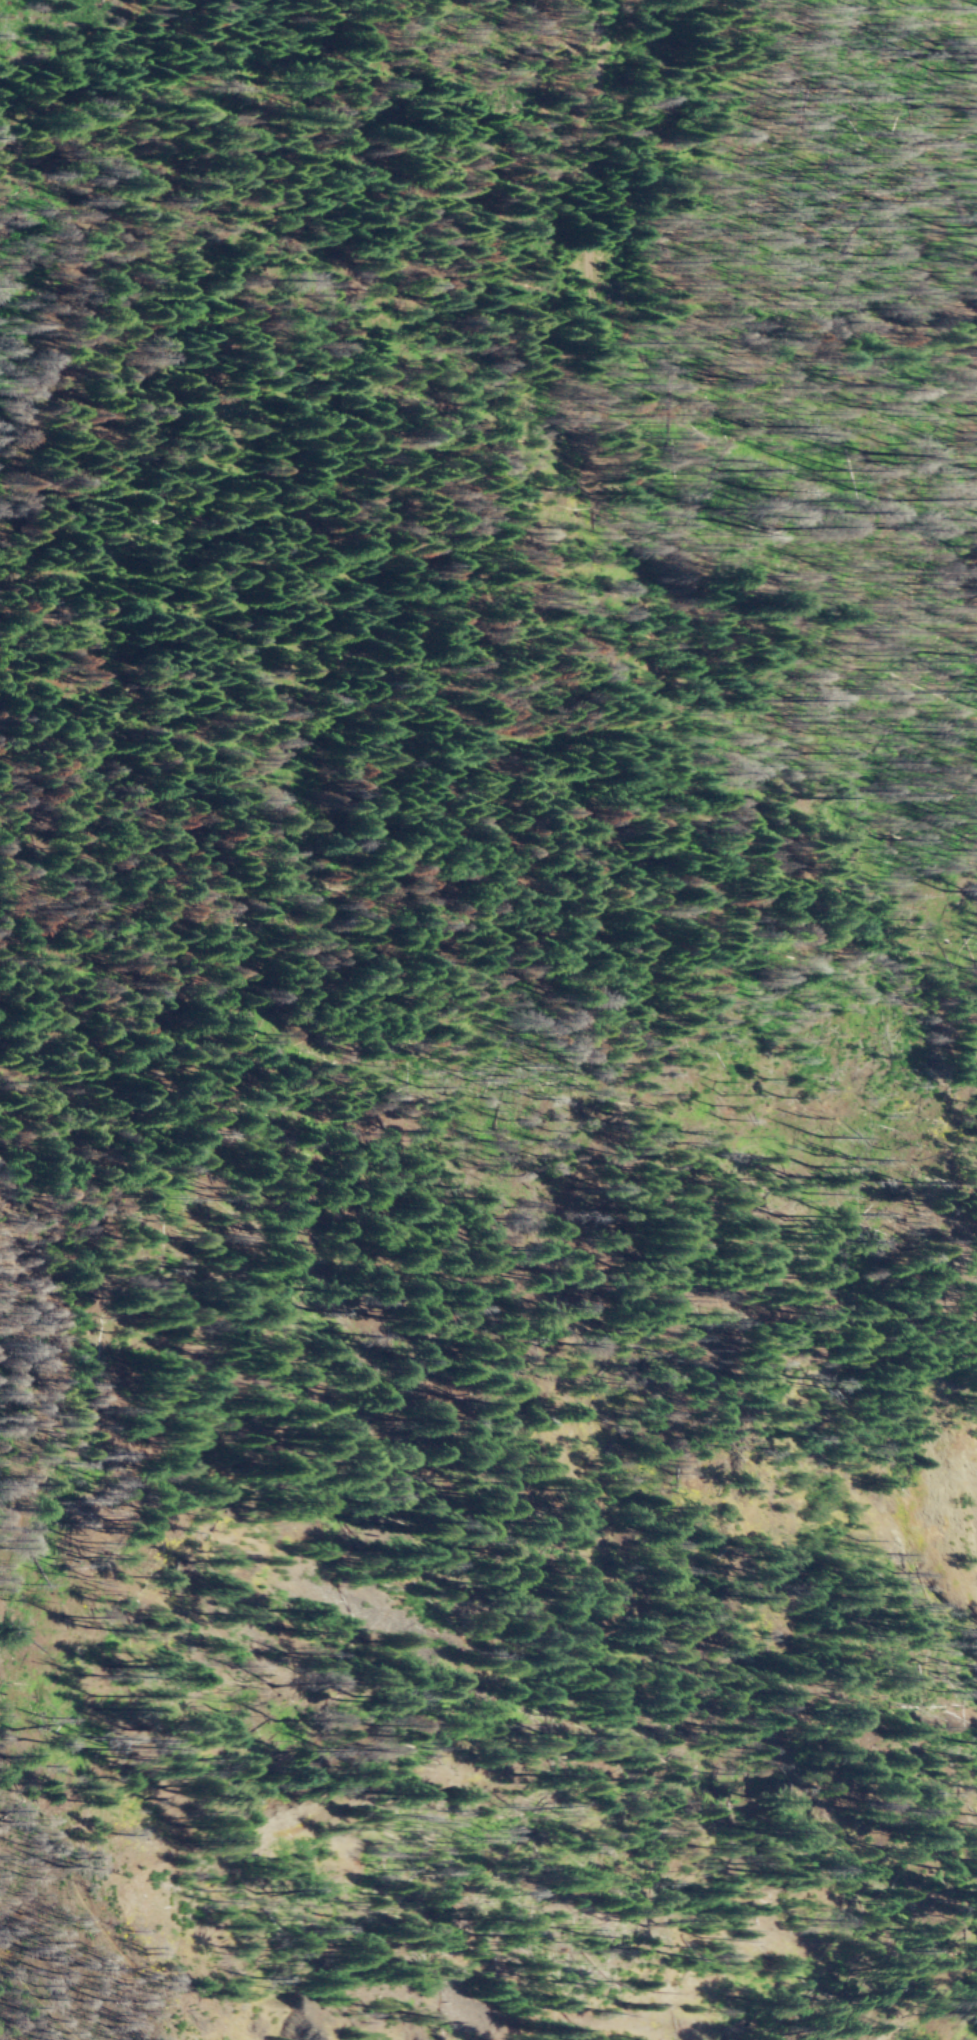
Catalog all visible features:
road: (589, 167)
road: (157, 383)
road: (72, 1294)
road: (126, 1965)

